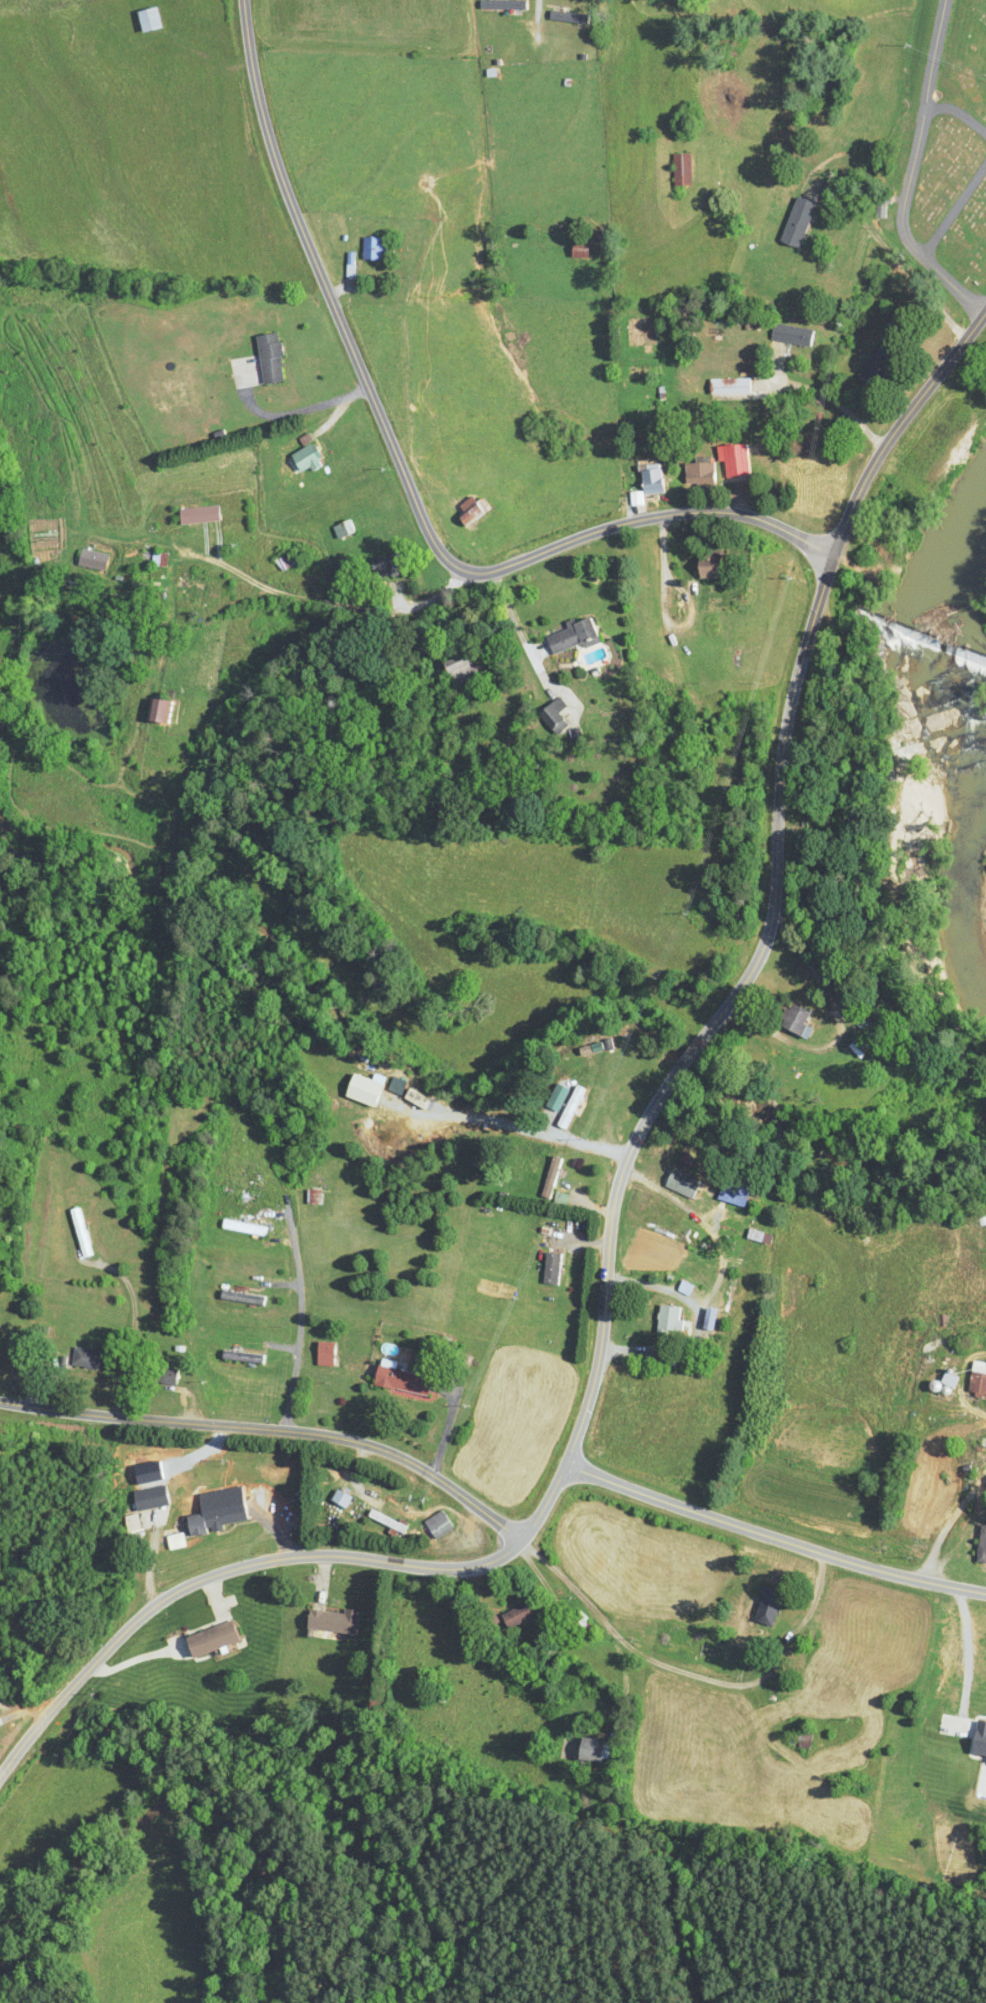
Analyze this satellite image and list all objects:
building: (498, 4)
road: (536, 13)
building: (567, 17)
building: (144, 19)
building: (679, 169)
road: (909, 170)
building: (880, 205)
building: (794, 222)
building: (372, 248)
building: (577, 250)
road: (898, 265)
building: (789, 335)
building: (267, 359)
building: (870, 367)
building: (727, 386)
building: (303, 459)
building: (731, 460)
building: (696, 474)
road: (404, 476)
building: (647, 477)
building: (471, 512)
building: (188, 516)
building: (340, 529)
building: (282, 561)
building: (383, 563)
building: (705, 565)
road: (148, 579)
building: (186, 589)
river: (973, 592)
road: (342, 608)
building: (569, 636)
dam: (937, 639)
building: (456, 669)
building: (160, 712)
building: (550, 713)
building: (446, 749)
river: (958, 846)
building: (792, 1022)
building: (862, 1027)
building: (567, 1108)
road: (513, 1126)
building: (547, 1178)
building: (678, 1184)
building: (729, 1194)
road: (616, 1195)
building: (310, 1198)
building: (241, 1229)
building: (78, 1233)
building: (547, 1268)
road: (715, 1281)
road: (655, 1286)
building: (238, 1298)
building: (664, 1317)
building: (320, 1353)
building: (237, 1356)
building: (80, 1357)
road: (276, 1372)
building: (161, 1375)
building: (975, 1377)
building: (396, 1379)
building: (943, 1382)
road: (960, 1382)
road: (274, 1430)
building: (147, 1497)
road: (982, 1510)
building: (220, 1514)
building: (432, 1521)
road: (946, 1523)
road: (968, 1535)
road: (771, 1539)
building: (979, 1544)
building: (762, 1609)
building: (517, 1613)
building: (327, 1621)
building: (205, 1638)
road: (968, 1655)
road: (688, 1671)
building: (429, 1694)

